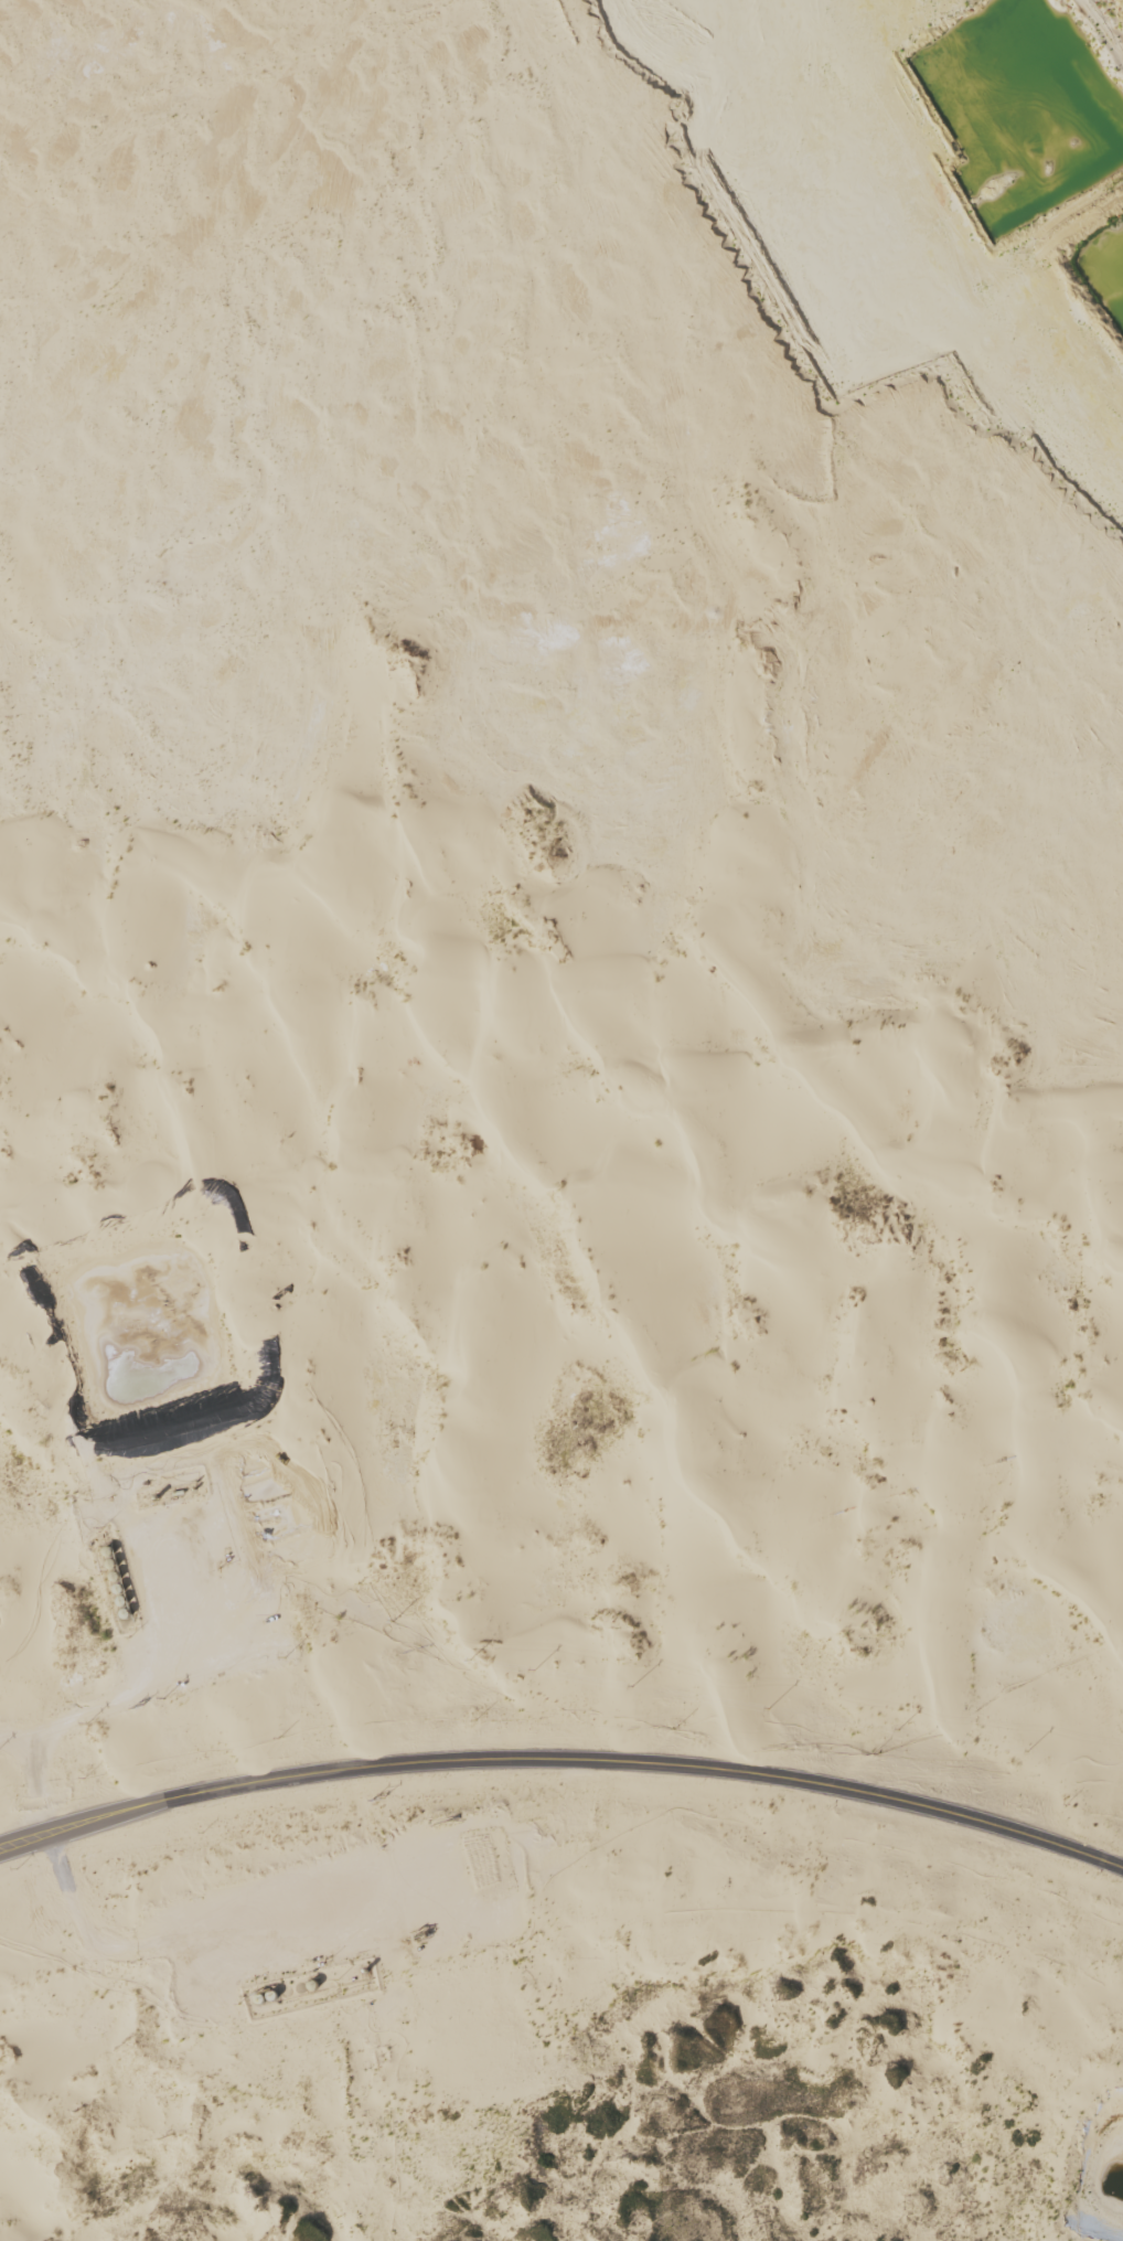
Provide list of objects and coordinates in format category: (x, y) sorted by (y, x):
road: (564, 1759)

